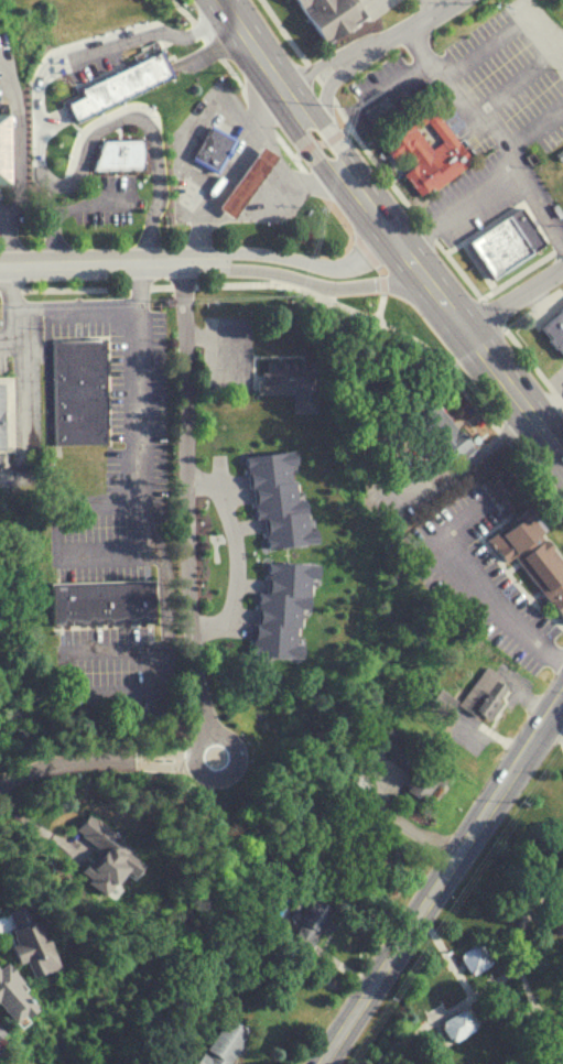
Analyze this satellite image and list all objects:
road: (429, 4)
parking lot: (393, 6)
building: (333, 17)
road: (507, 25)
road: (394, 33)
road: (308, 70)
building: (118, 84)
road: (326, 94)
road: (249, 99)
road: (461, 105)
building: (383, 113)
road: (306, 119)
road: (534, 123)
road: (18, 133)
road: (322, 142)
building: (4, 146)
building: (216, 150)
gas station: (216, 150)
building: (431, 151)
building: (118, 154)
road: (372, 158)
road: (40, 167)
road: (228, 170)
building: (251, 182)
road: (490, 183)
road: (4, 210)
road: (350, 236)
road: (7, 237)
road: (397, 243)
building: (501, 245)
road: (291, 259)
road: (90, 261)
road: (373, 261)
road: (418, 269)
road: (522, 271)
road: (307, 283)
road: (138, 284)
road: (325, 297)
road: (512, 297)
road: (380, 306)
road: (448, 308)
building: (554, 330)
road: (12, 334)
road: (527, 357)
road: (26, 367)
building: (289, 379)
building: (78, 390)
road: (513, 391)
road: (549, 408)
building: (1, 417)
building: (444, 428)
road: (485, 438)
road: (139, 475)
parking lot: (409, 480)
building: (498, 484)
building: (275, 497)
road: (238, 553)
building: (535, 554)
building: (100, 601)
road: (501, 604)
building: (280, 606)
road: (186, 618)
building: (490, 694)
road: (556, 721)
building: (416, 766)
road: (39, 827)
building: (108, 857)
road: (443, 881)
building: (1, 898)
building: (314, 926)
road: (433, 932)
building: (36, 942)
park: (488, 953)
road: (519, 954)
building: (478, 959)
road: (464, 969)
road: (459, 975)
building: (17, 995)
road: (446, 1013)
building: (463, 1027)
building: (3, 1040)
building: (227, 1043)
road: (562, 1056)

